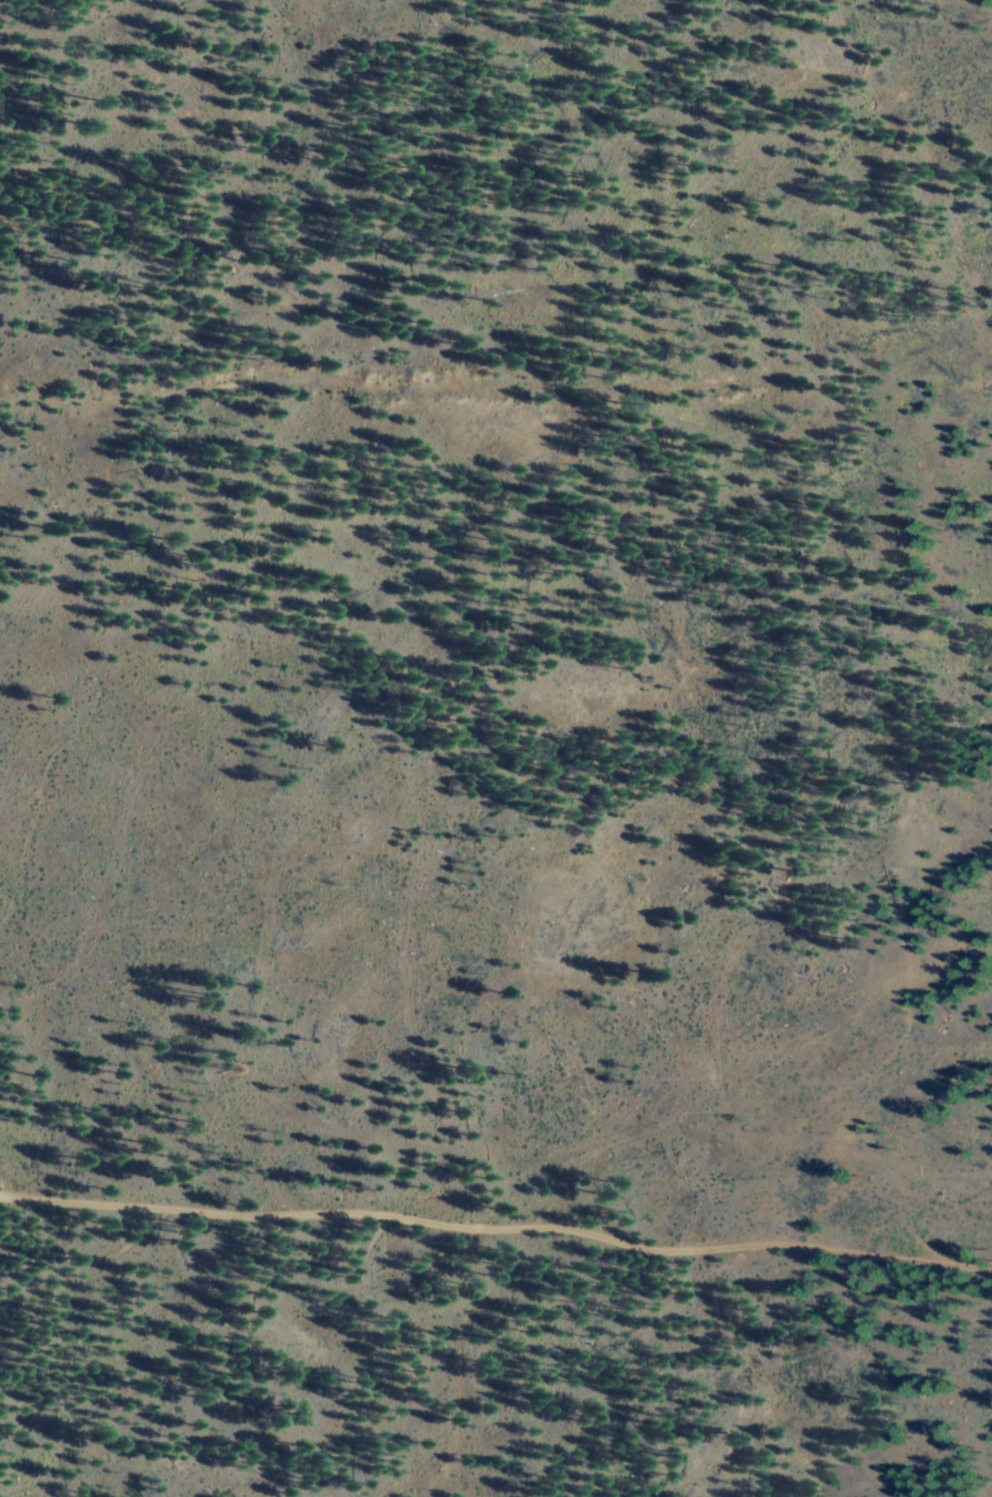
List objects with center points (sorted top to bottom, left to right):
road: (496, 1235)

